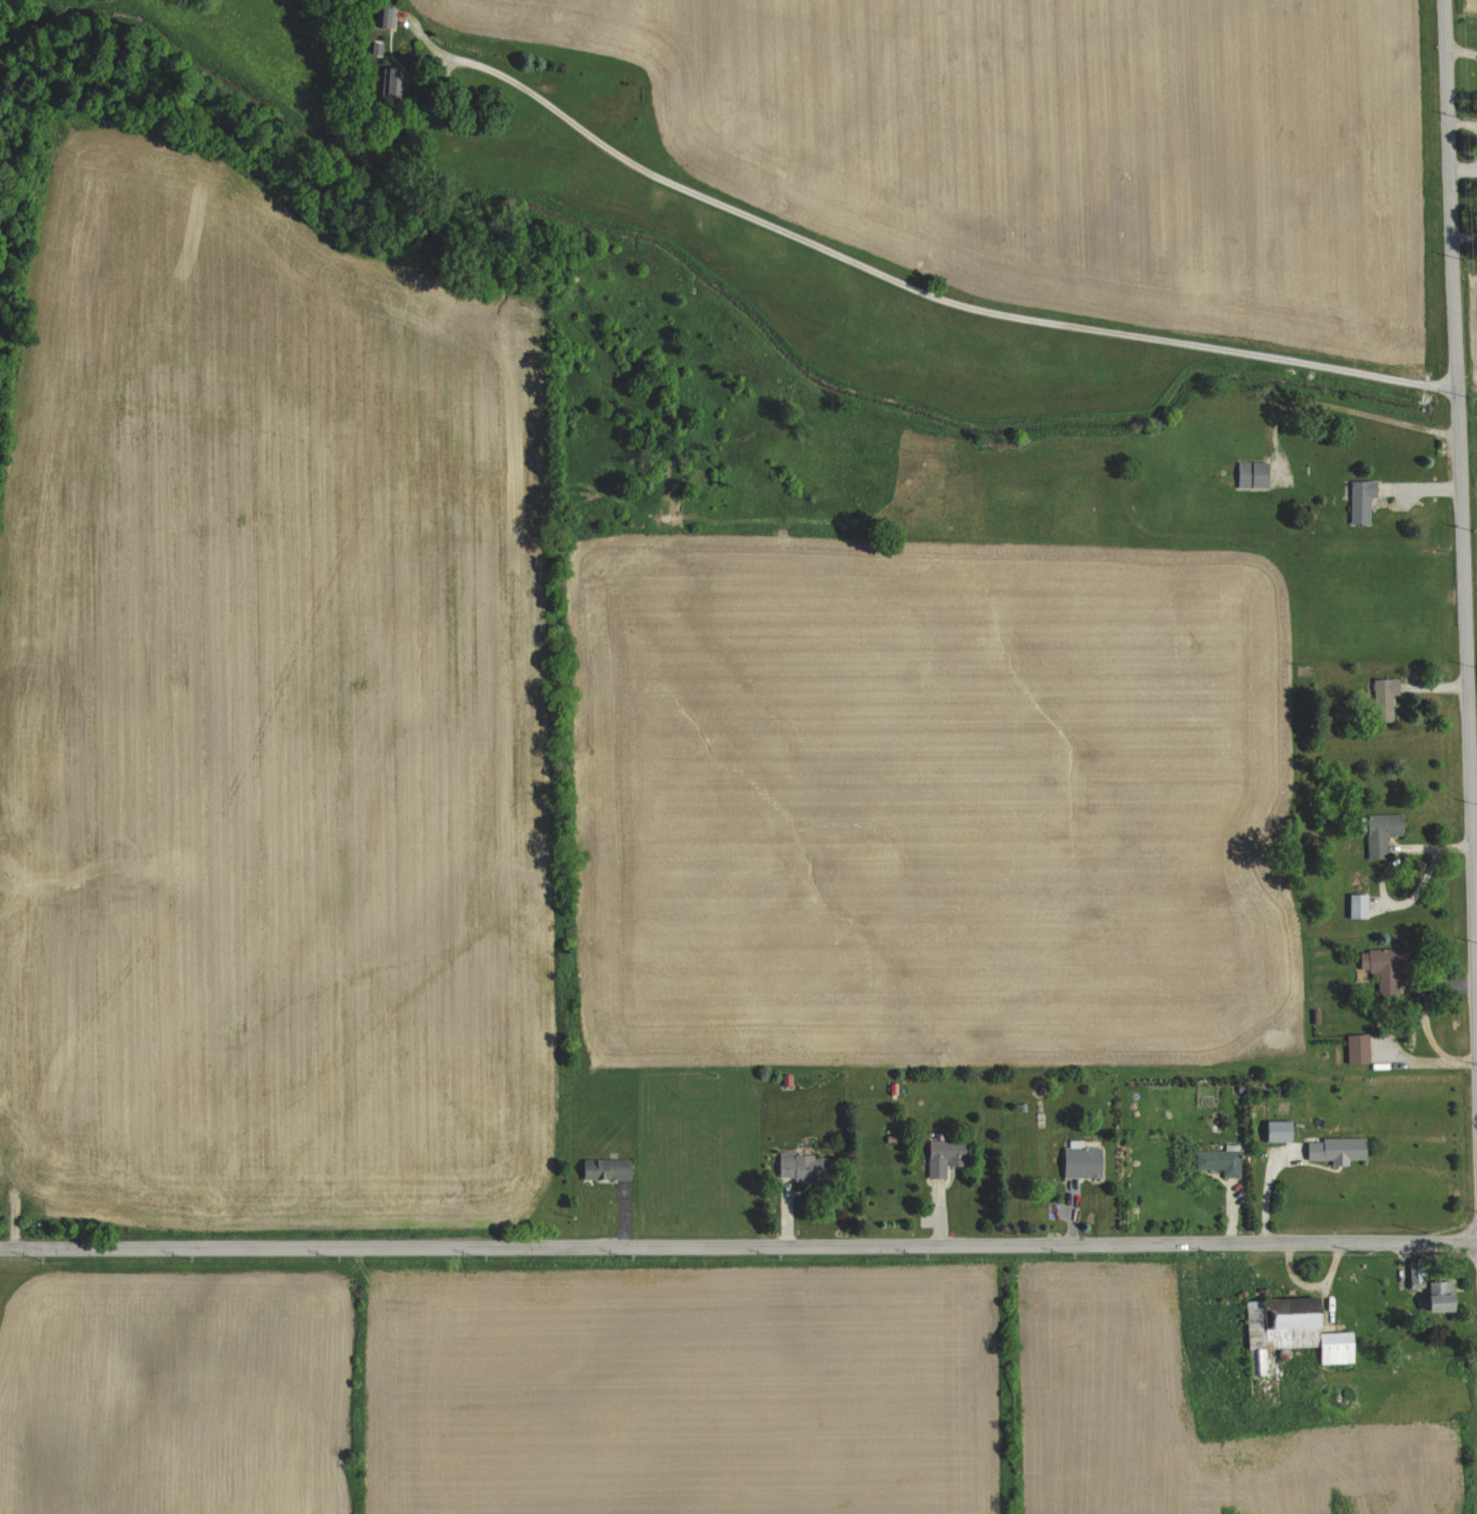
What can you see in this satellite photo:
building: (389, 16)
building: (395, 81)
road: (946, 308)
road: (1345, 410)
road: (1464, 421)
building: (1252, 474)
building: (1362, 500)
building: (1385, 698)
building: (1382, 833)
building: (1358, 906)
building: (1386, 968)
building: (1358, 1048)
building: (1280, 1130)
building: (1336, 1149)
building: (946, 1155)
building: (1220, 1160)
building: (1084, 1161)
building: (803, 1166)
building: (607, 1168)
road: (738, 1246)
building: (1444, 1294)
building: (1294, 1329)

